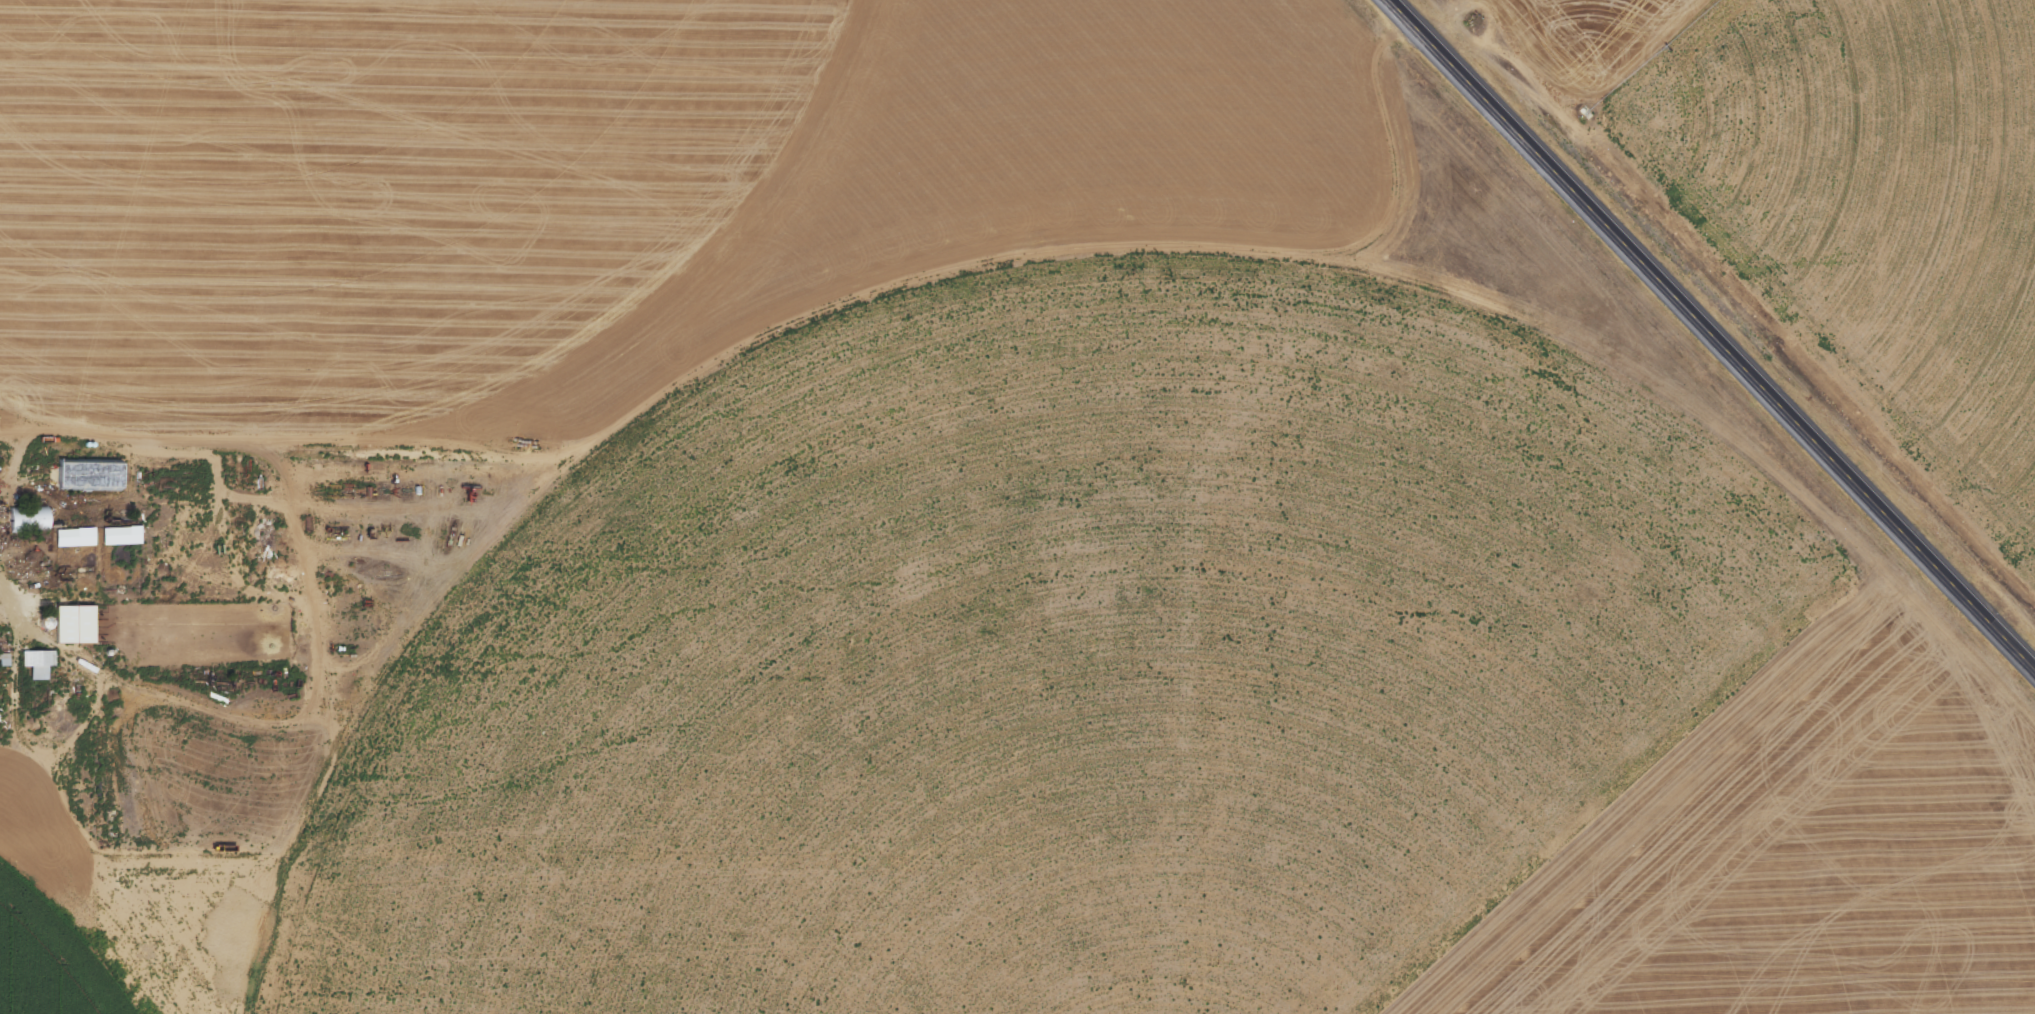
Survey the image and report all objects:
road: (1713, 332)
building: (123, 535)
building: (77, 537)

